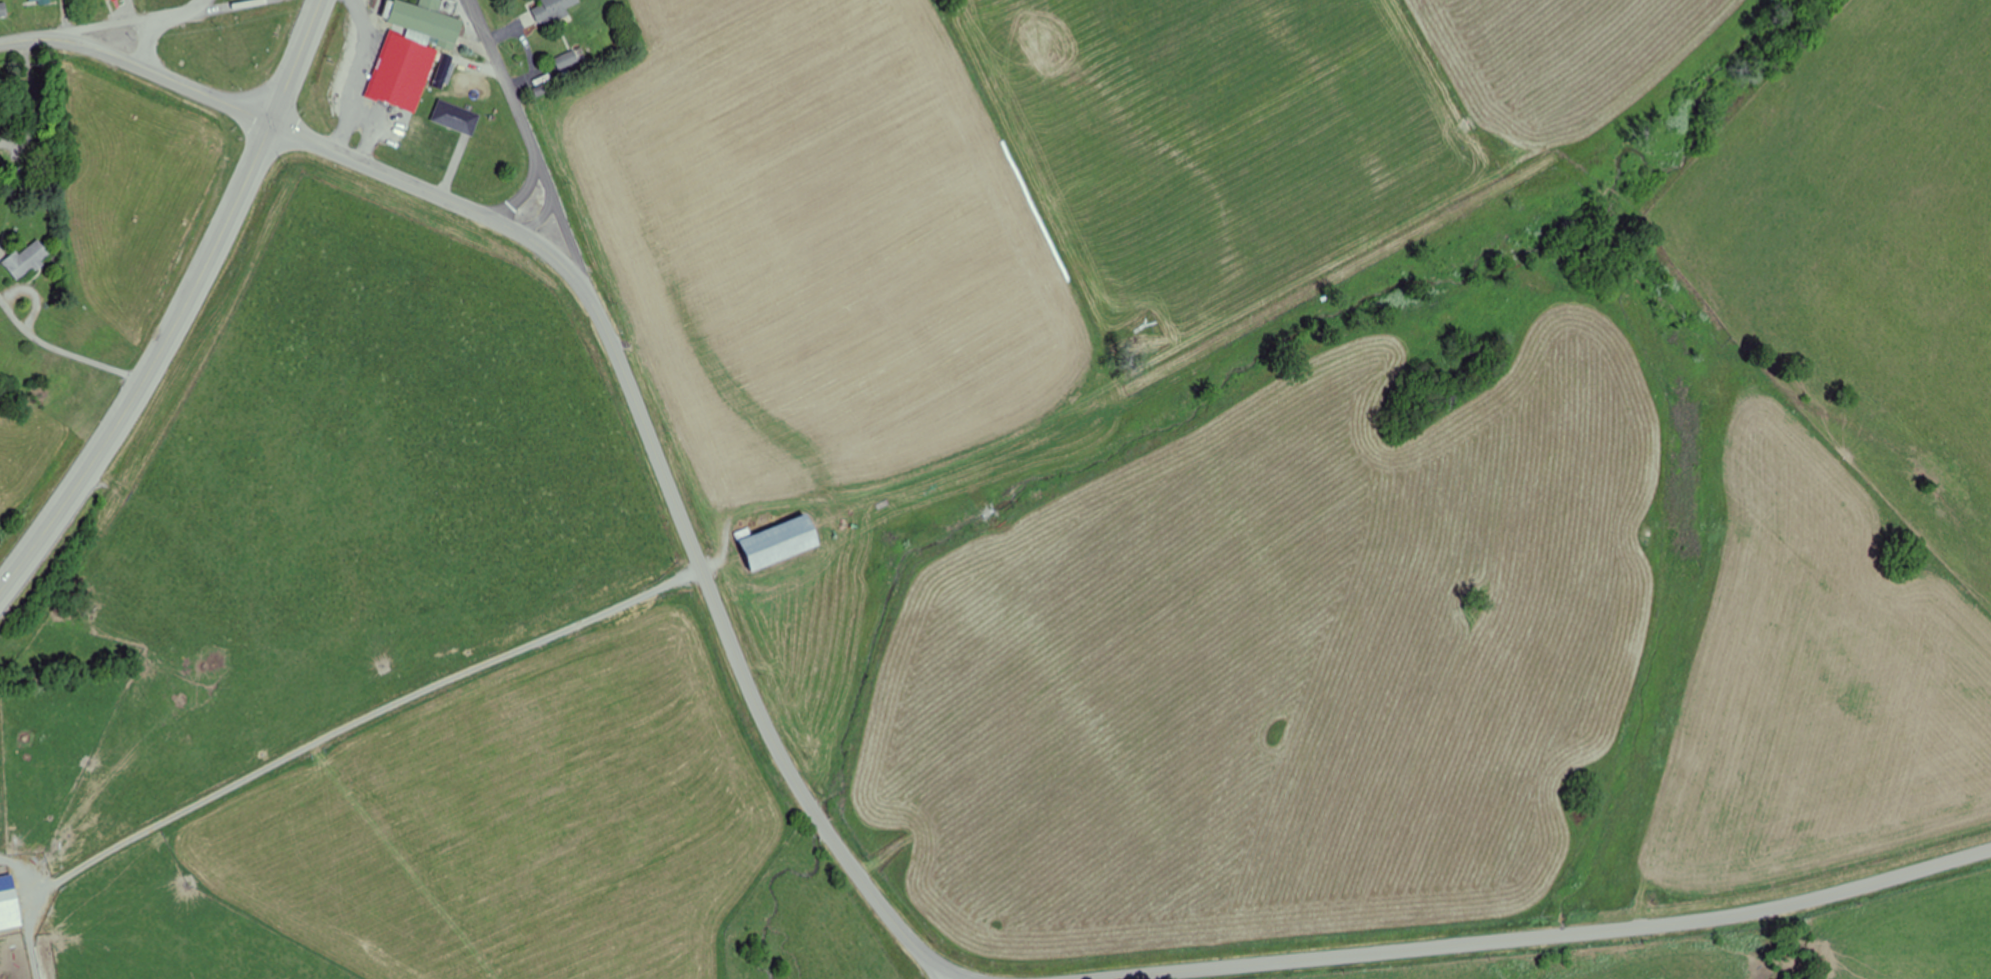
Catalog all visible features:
building: (39, 1)
road: (220, 5)
building: (3, 9)
building: (553, 9)
building: (425, 19)
road: (103, 22)
road: (152, 43)
road: (77, 44)
building: (567, 59)
road: (297, 60)
building: (405, 71)
road: (211, 95)
building: (457, 117)
traffic signals: (272, 121)
road: (539, 164)
road: (524, 192)
road: (542, 218)
building: (26, 260)
road: (66, 348)
road: (152, 365)
road: (666, 478)
building: (779, 542)
building: (10, 910)
road: (1548, 935)
road: (943, 971)
road: (955, 972)

